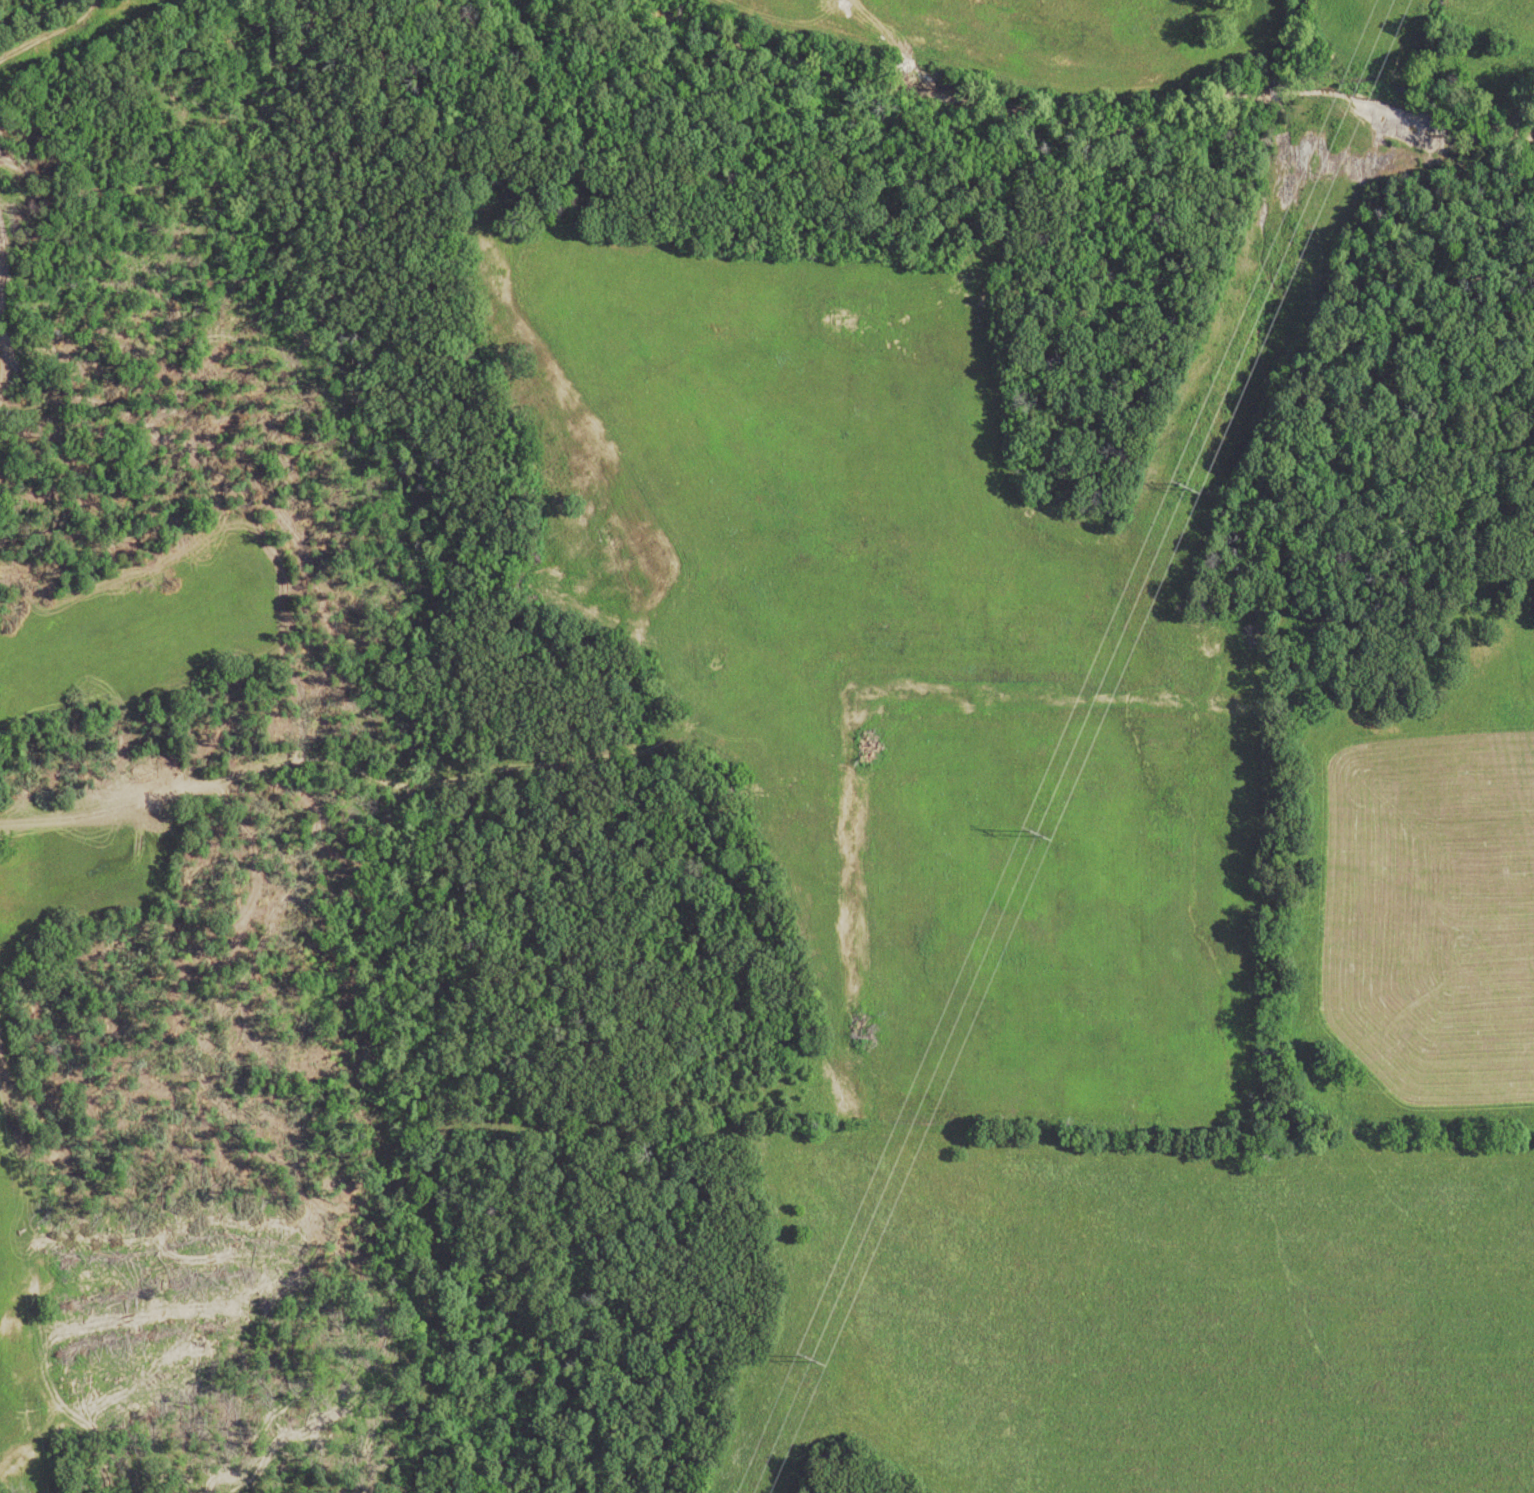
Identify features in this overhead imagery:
power tower: (1183, 486)
power tower: (1036, 835)
power tower: (809, 1360)

